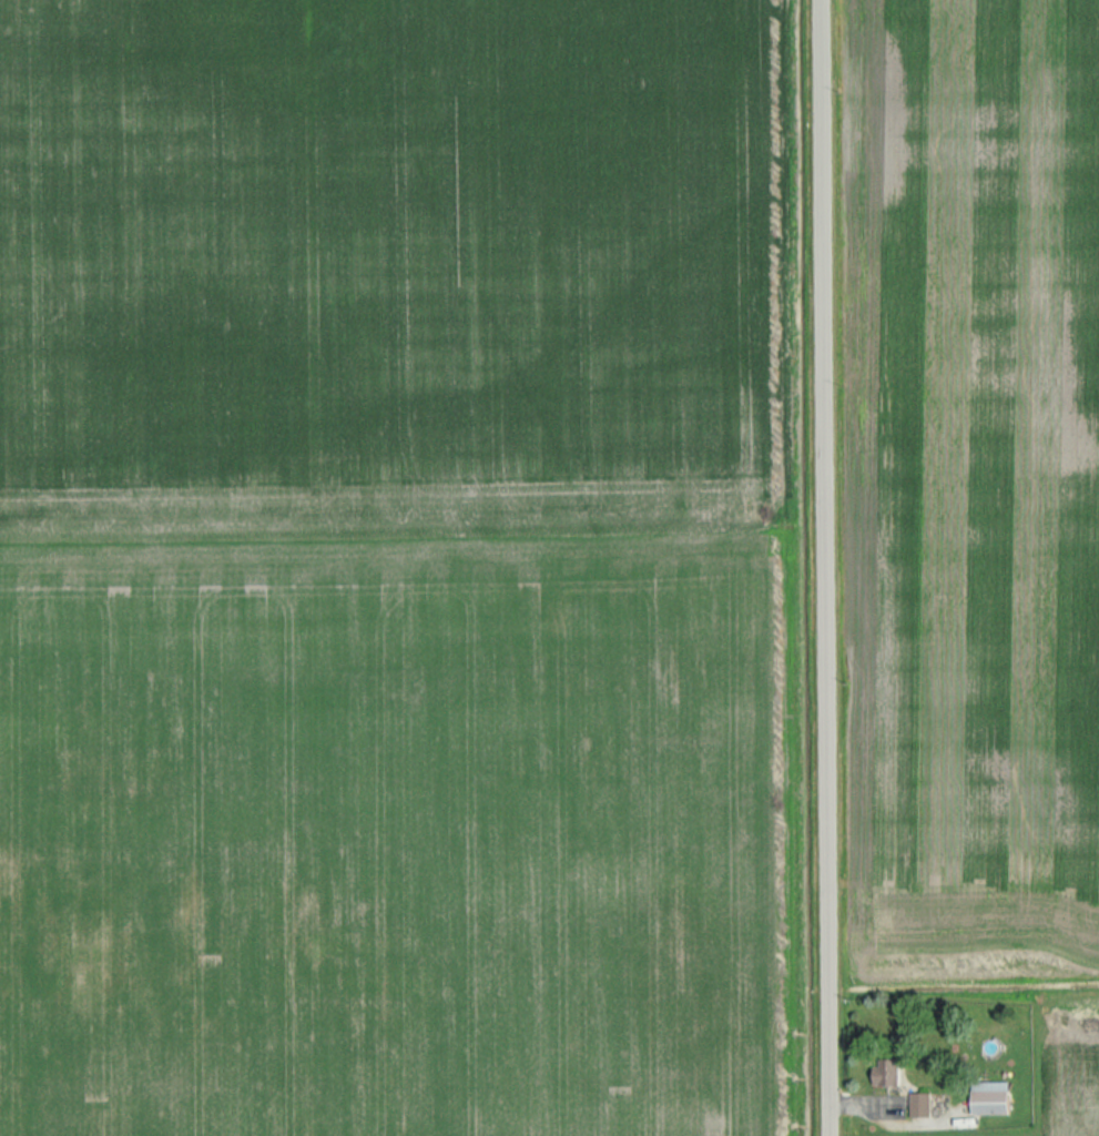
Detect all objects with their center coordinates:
road: (826, 568)
building: (991, 1098)
building: (918, 1104)

